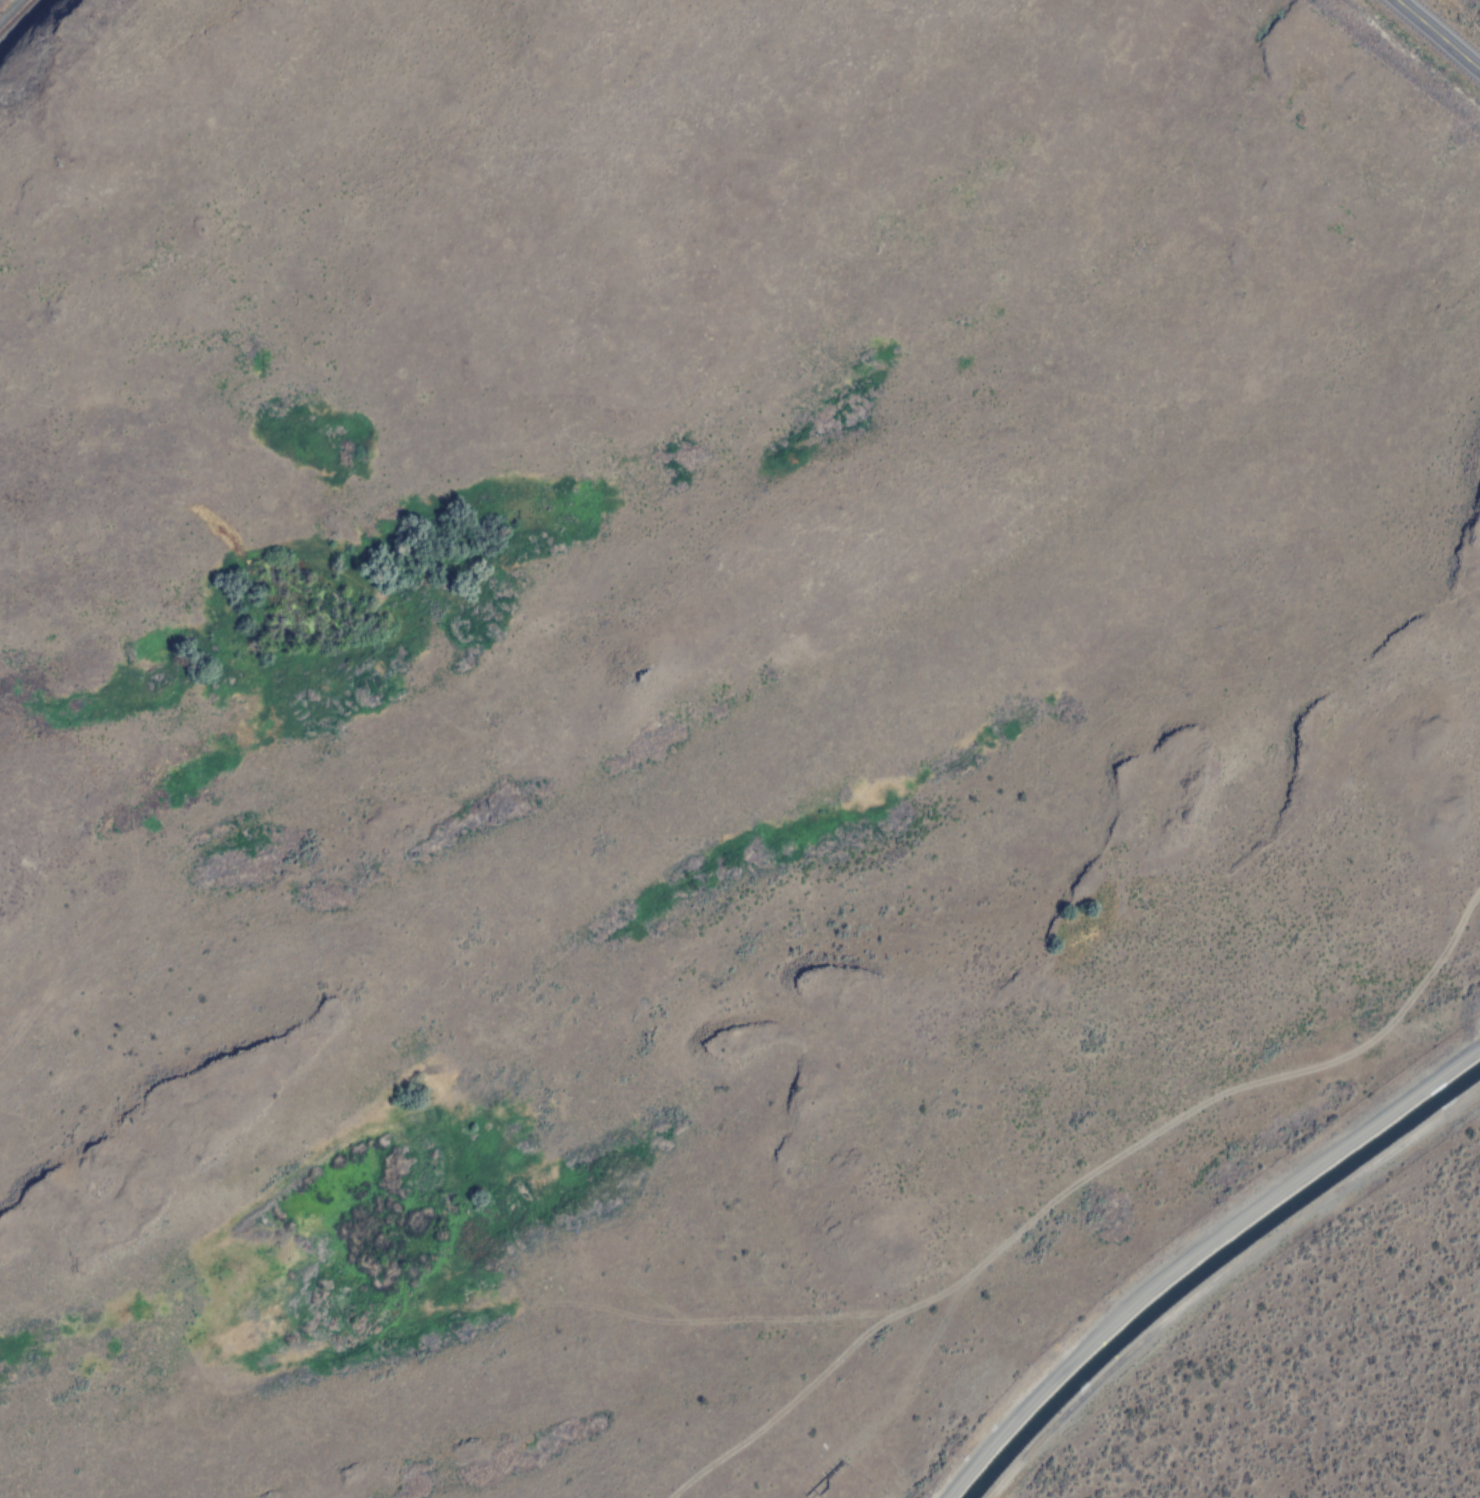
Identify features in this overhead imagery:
railway: (13, 13)
road: (1441, 32)

